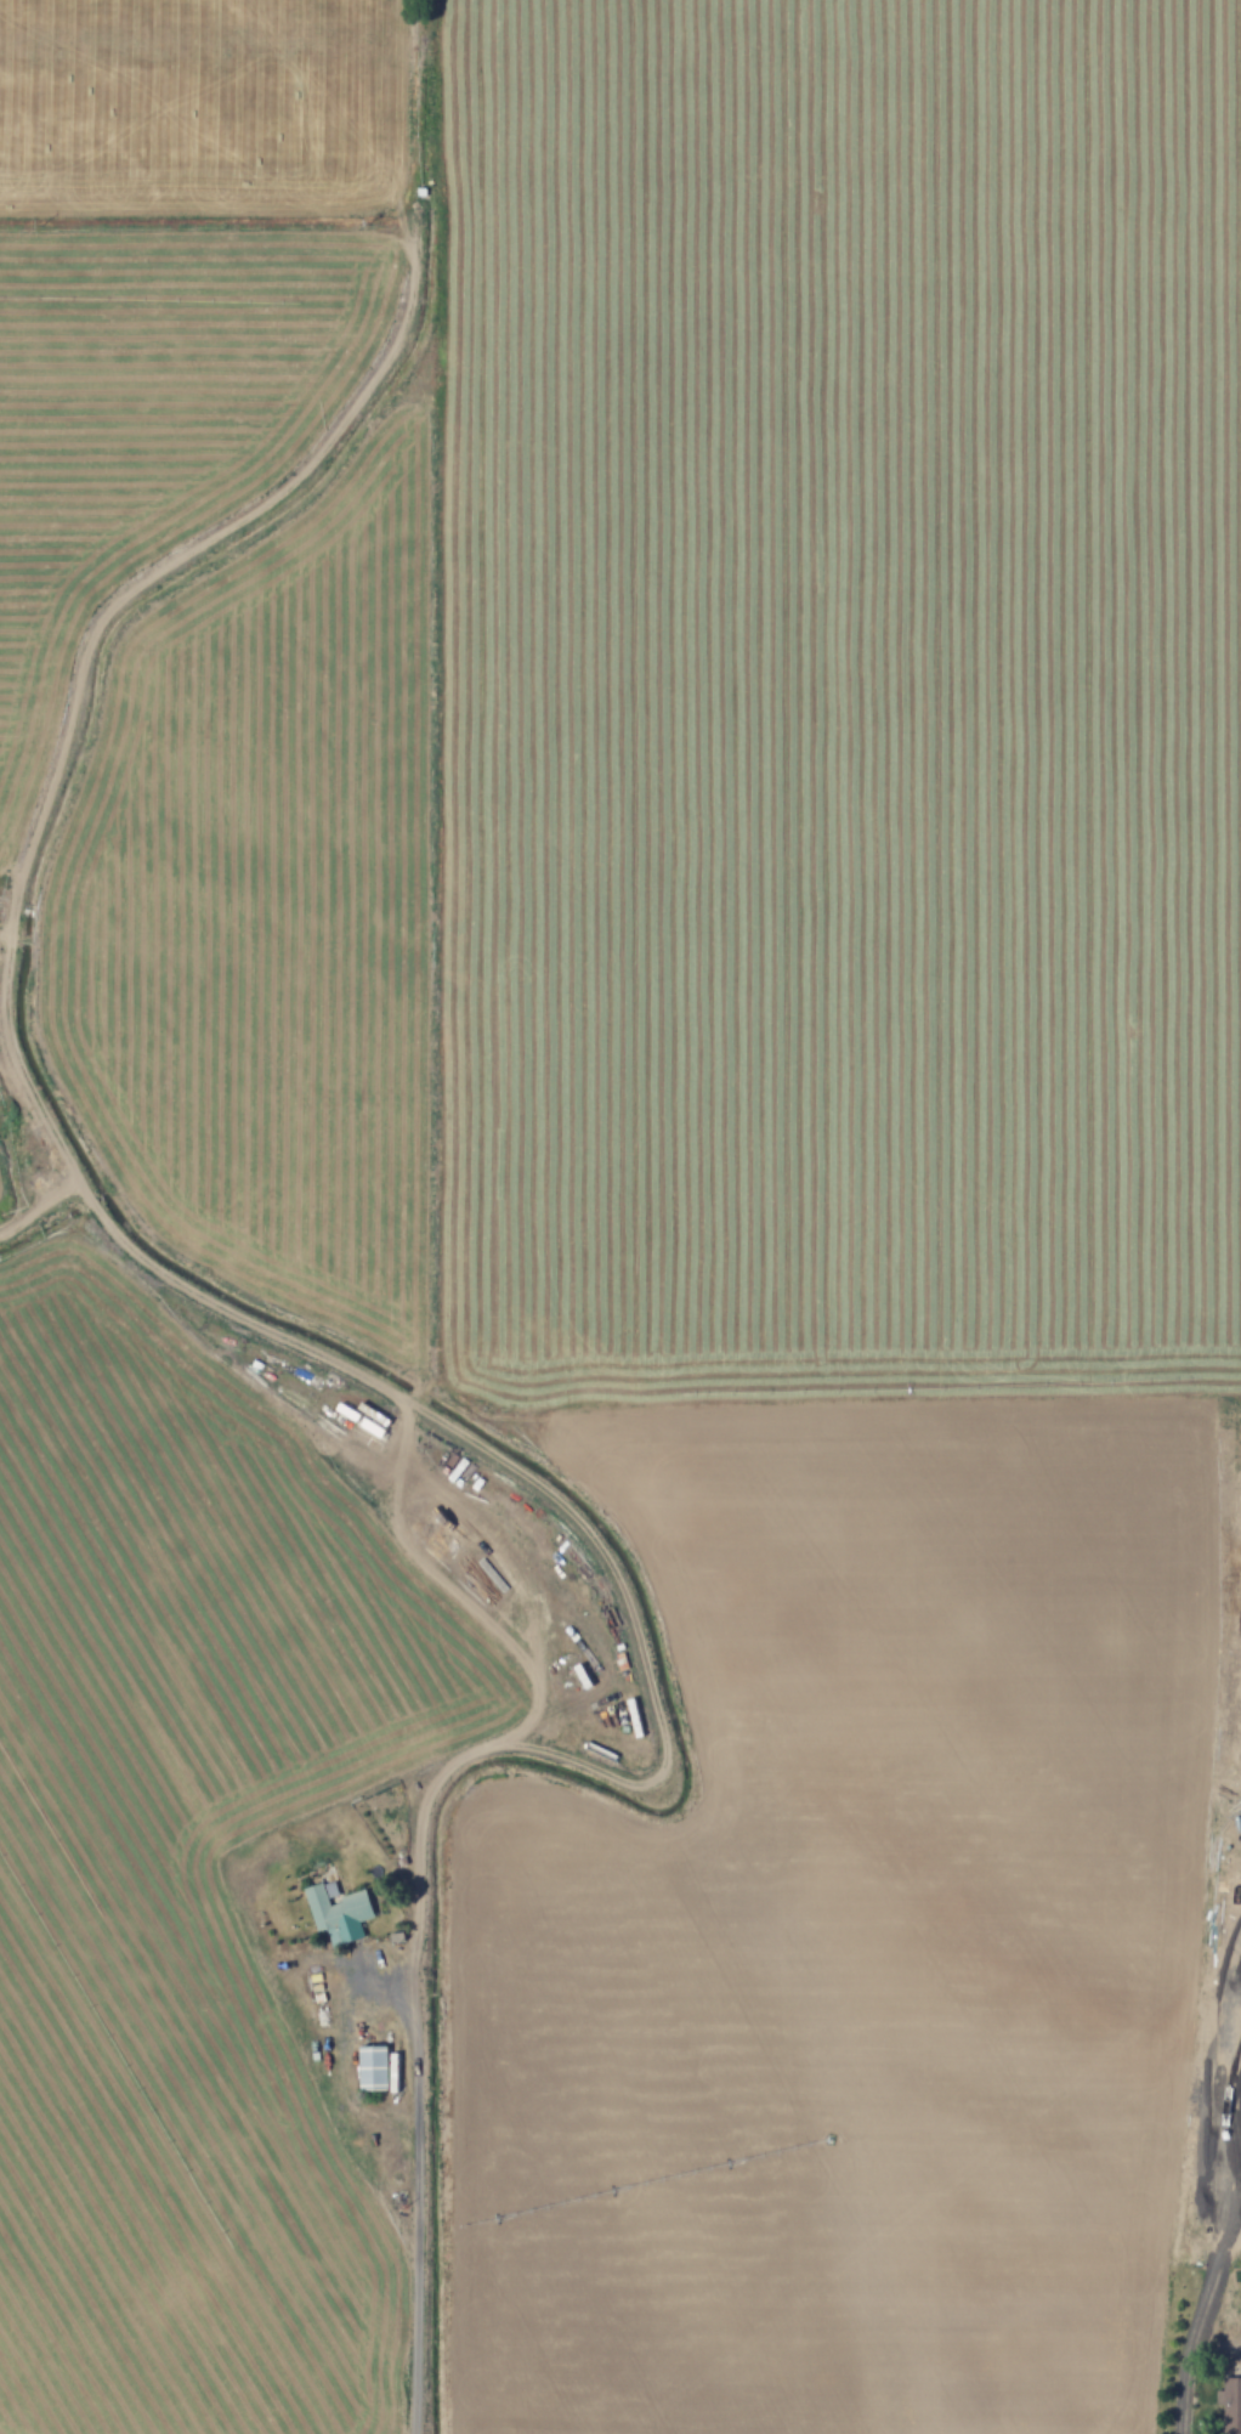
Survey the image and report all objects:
crop: (620, 1217)
building: (334, 1909)
building: (370, 2067)
road: (414, 2191)
building: (1231, 2408)

